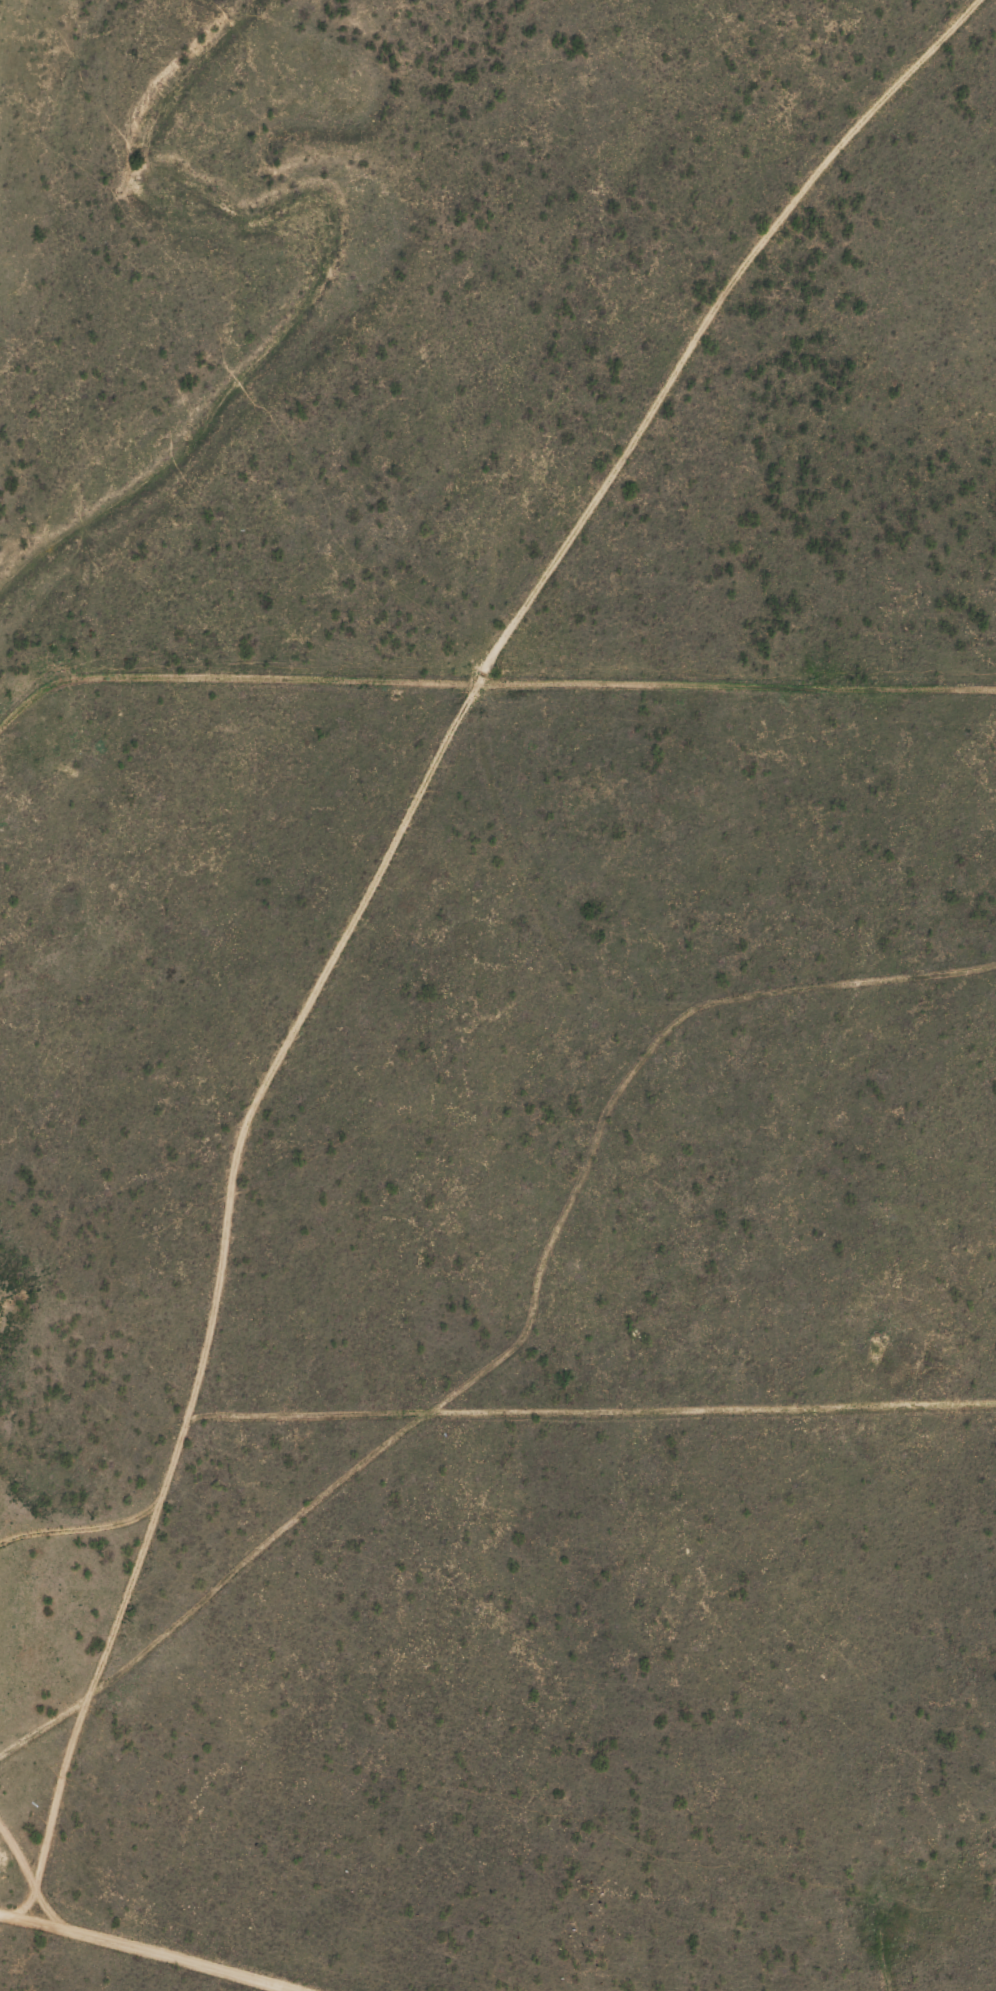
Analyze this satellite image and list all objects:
road: (411, 884)

